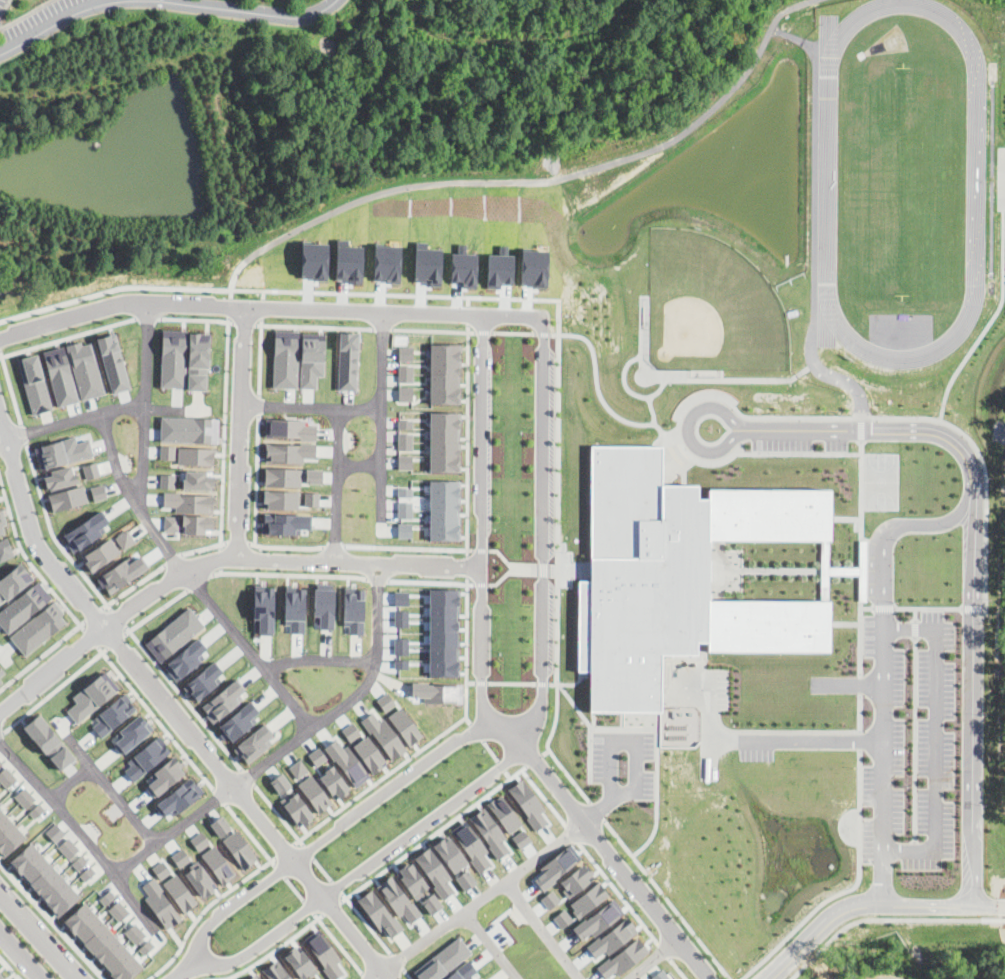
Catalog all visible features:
road: (164, 1)
road: (4, 6)
road: (24, 13)
road: (1, 24)
park: (901, 180)
road: (538, 181)
track: (900, 181)
road: (1002, 292)
road: (230, 293)
road: (263, 294)
park: (712, 295)
road: (537, 298)
road: (468, 301)
road: (228, 306)
road: (268, 306)
road: (261, 308)
road: (468, 314)
road: (197, 319)
road: (245, 323)
road: (314, 325)
road: (642, 326)
road: (382, 328)
road: (430, 329)
road: (472, 331)
road: (483, 332)
road: (513, 332)
road: (543, 333)
road: (67, 337)
building: (406, 353)
road: (260, 356)
building: (173, 358)
building: (285, 358)
building: (311, 358)
building: (198, 360)
road: (632, 360)
building: (347, 362)
building: (113, 363)
building: (84, 369)
building: (405, 373)
building: (445, 373)
building: (60, 375)
road: (713, 379)
building: (34, 384)
road: (10, 387)
road: (597, 388)
building: (405, 393)
road: (259, 404)
road: (199, 406)
road: (164, 408)
road: (361, 409)
road: (130, 416)
road: (858, 417)
building: (405, 423)
building: (289, 428)
road: (861, 428)
road: (864, 428)
road: (22, 429)
building: (189, 429)
road: (241, 430)
road: (224, 432)
road: (3, 437)
road: (467, 439)
road: (661, 439)
building: (405, 441)
building: (445, 442)
road: (13, 446)
building: (62, 452)
building: (167, 452)
building: (289, 452)
road: (797, 453)
building: (196, 456)
road: (381, 458)
building: (405, 461)
road: (684, 469)
building: (91, 470)
road: (118, 473)
building: (283, 476)
building: (314, 476)
building: (60, 477)
building: (167, 480)
building: (197, 480)
road: (256, 481)
park: (880, 481)
road: (339, 484)
road: (861, 485)
building: (98, 492)
building: (404, 492)
road: (381, 494)
building: (67, 498)
road: (144, 499)
building: (281, 499)
building: (311, 499)
building: (189, 502)
building: (405, 510)
building: (445, 510)
road: (845, 518)
building: (2, 522)
building: (171, 522)
building: (284, 522)
building: (197, 523)
road: (50, 530)
road: (385, 530)
building: (405, 530)
building: (85, 531)
road: (889, 532)
building: (125, 538)
road: (237, 541)
road: (288, 546)
road: (203, 547)
road: (421, 548)
building: (5, 549)
road: (471, 549)
road: (481, 549)
building: (101, 554)
road: (215, 558)
road: (220, 558)
road: (172, 559)
road: (29, 561)
road: (510, 563)
road: (467, 565)
road: (860, 567)
road: (542, 568)
road: (553, 569)
road: (573, 569)
road: (785, 569)
road: (220, 570)
building: (120, 573)
building: (680, 573)
road: (288, 574)
road: (501, 578)
building: (13, 581)
road: (198, 581)
road: (471, 584)
road: (481, 584)
road: (133, 585)
building: (0, 604)
building: (324, 604)
building: (23, 606)
road: (866, 607)
road: (883, 607)
building: (264, 608)
building: (295, 608)
road: (928, 608)
road: (973, 608)
building: (354, 609)
road: (155, 611)
road: (385, 611)
road: (94, 614)
road: (915, 614)
road: (118, 618)
building: (38, 628)
road: (915, 629)
road: (466, 630)
building: (174, 634)
road: (90, 637)
road: (115, 640)
road: (860, 641)
road: (6, 648)
road: (42, 655)
road: (372, 656)
building: (184, 659)
building: (1, 671)
park: (991, 679)
building: (0, 680)
building: (204, 680)
road: (276, 682)
road: (470, 682)
road: (480, 682)
road: (511, 683)
road: (542, 683)
road: (569, 683)
road: (860, 684)
road: (54, 689)
building: (437, 691)
building: (92, 696)
road: (184, 697)
road: (972, 699)
building: (222, 701)
building: (385, 701)
road: (466, 701)
road: (173, 709)
road: (860, 713)
building: (113, 714)
road: (155, 717)
road: (468, 720)
building: (239, 721)
building: (404, 725)
road: (509, 726)
road: (589, 727)
road: (783, 730)
road: (511, 731)
building: (133, 732)
building: (350, 732)
road: (476, 732)
road: (1, 733)
building: (384, 736)
road: (635, 738)
road: (935, 738)
road: (914, 739)
building: (48, 741)
road: (860, 741)
road: (798, 742)
parking lot: (911, 742)
building: (254, 744)
road: (490, 751)
building: (369, 754)
building: (317, 756)
building: (146, 757)
building: (0, 762)
road: (657, 762)
building: (347, 763)
parking lot: (624, 764)
road: (884, 766)
building: (298, 769)
building: (164, 775)
building: (6, 777)
road: (248, 777)
road: (379, 780)
building: (334, 781)
road: (106, 783)
building: (281, 783)
building: (314, 793)
building: (180, 796)
road: (220, 796)
building: (24, 797)
building: (527, 802)
road: (600, 807)
building: (297, 808)
building: (36, 810)
road: (597, 810)
road: (279, 815)
building: (220, 825)
building: (489, 831)
building: (54, 832)
road: (250, 833)
building: (8, 834)
building: (199, 840)
building: (470, 844)
building: (68, 848)
building: (239, 849)
road: (284, 850)
road: (308, 851)
road: (410, 851)
road: (610, 852)
building: (449, 853)
building: (180, 857)
building: (79, 861)
road: (107, 864)
building: (217, 864)
road: (525, 867)
building: (162, 869)
road: (323, 869)
road: (280, 870)
building: (434, 871)
building: (87, 873)
building: (44, 879)
building: (200, 879)
building: (413, 880)
building: (465, 880)
road: (336, 886)
road: (850, 888)
road: (295, 889)
building: (180, 893)
road: (28, 895)
building: (107, 897)
road: (219, 897)
road: (141, 898)
road: (667, 898)
building: (398, 899)
building: (589, 899)
road: (988, 902)
building: (160, 903)
building: (432, 903)
road: (855, 905)
road: (309, 906)
road: (331, 907)
building: (118, 910)
building: (379, 914)
road: (458, 915)
building: (563, 918)
road: (886, 919)
road: (366, 923)
road: (310, 924)
road: (545, 930)
building: (135, 933)
road: (40, 935)
road: (338, 943)
building: (101, 945)
building: (146, 946)
building: (323, 953)
road: (22, 954)
building: (624, 958)
building: (442, 959)
road: (653, 959)
road: (397, 961)
building: (300, 962)
building: (276, 970)
road: (180, 971)
road: (239, 971)
building: (462, 971)
road: (375, 973)
road: (406, 974)
building: (661, 975)
road: (364, 976)
building: (1, 977)
building: (255, 977)
building: (317, 978)
building: (648, 978)

